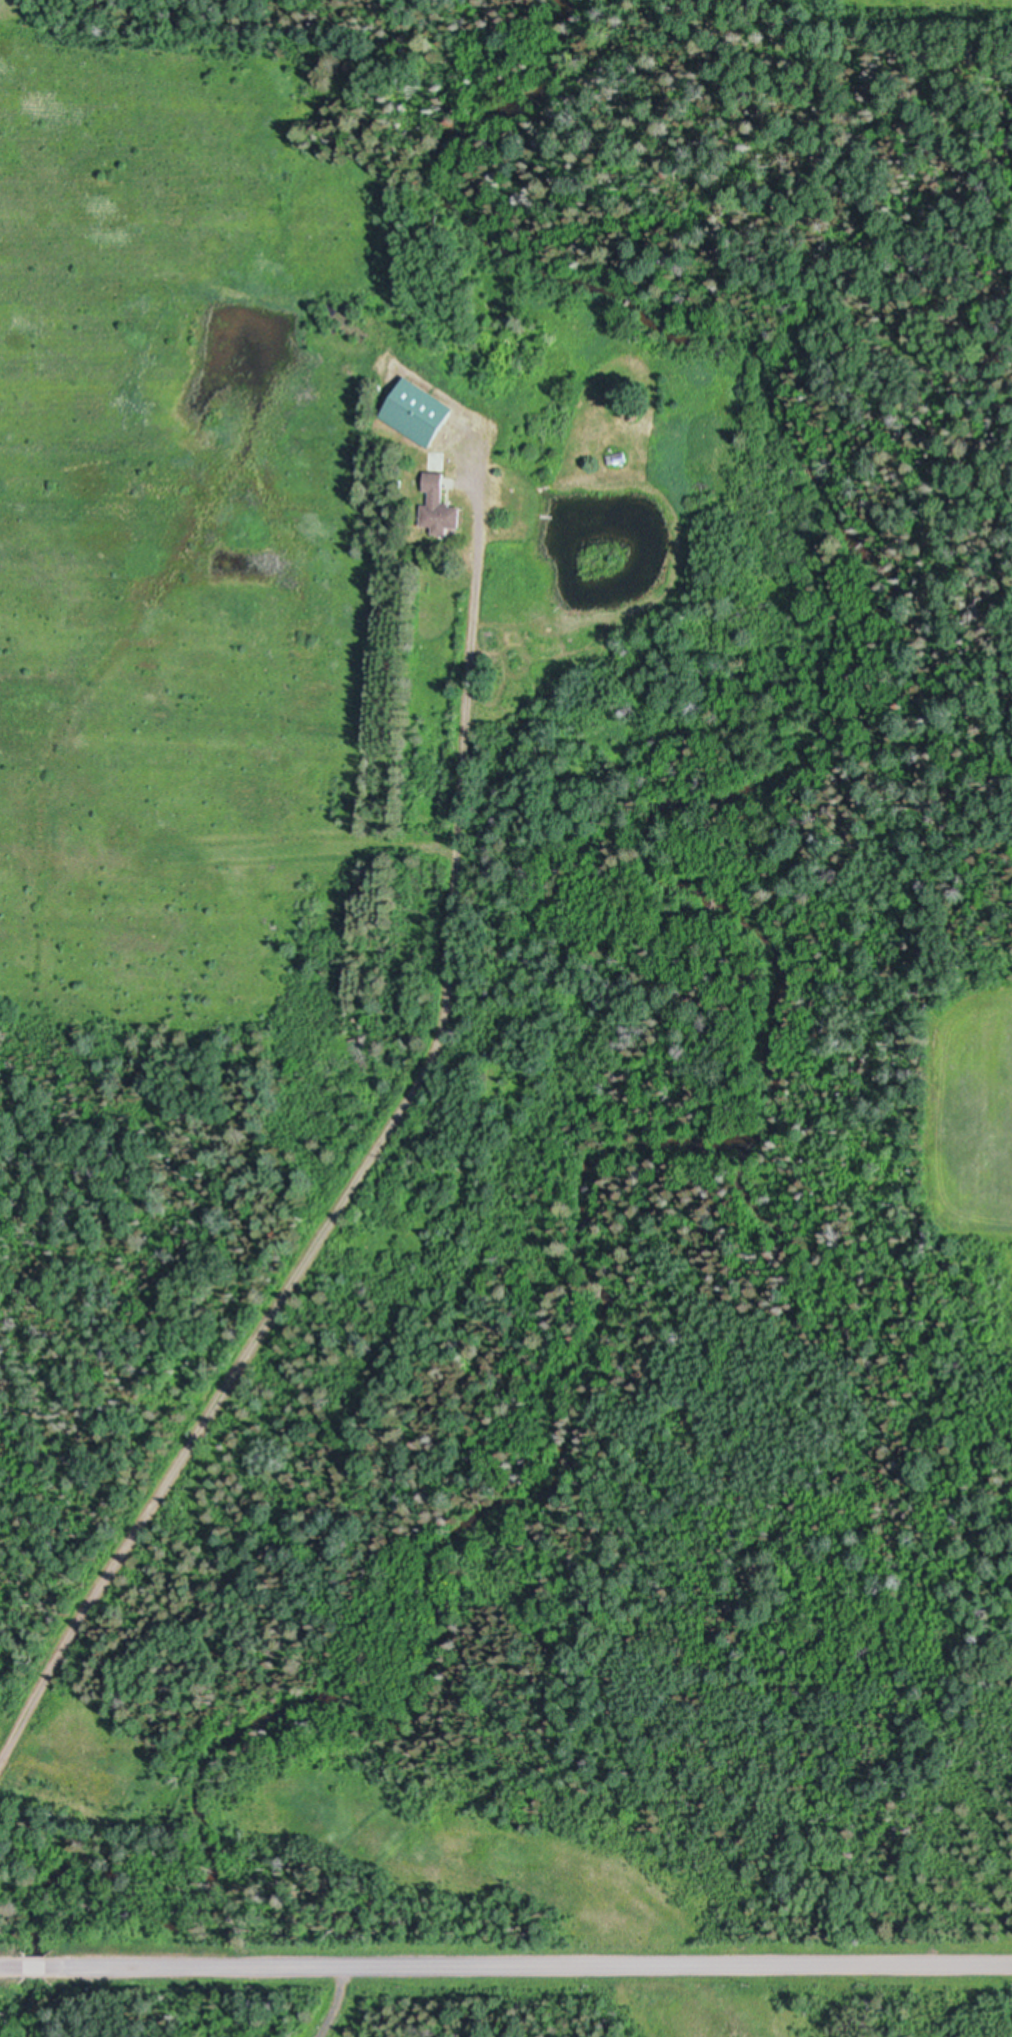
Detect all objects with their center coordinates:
building: (347, 319)
building: (419, 412)
building: (619, 457)
building: (439, 505)
river: (795, 1030)
road: (379, 1147)
road: (10, 1966)
road: (37, 1967)
road: (533, 1968)
road: (337, 2003)

